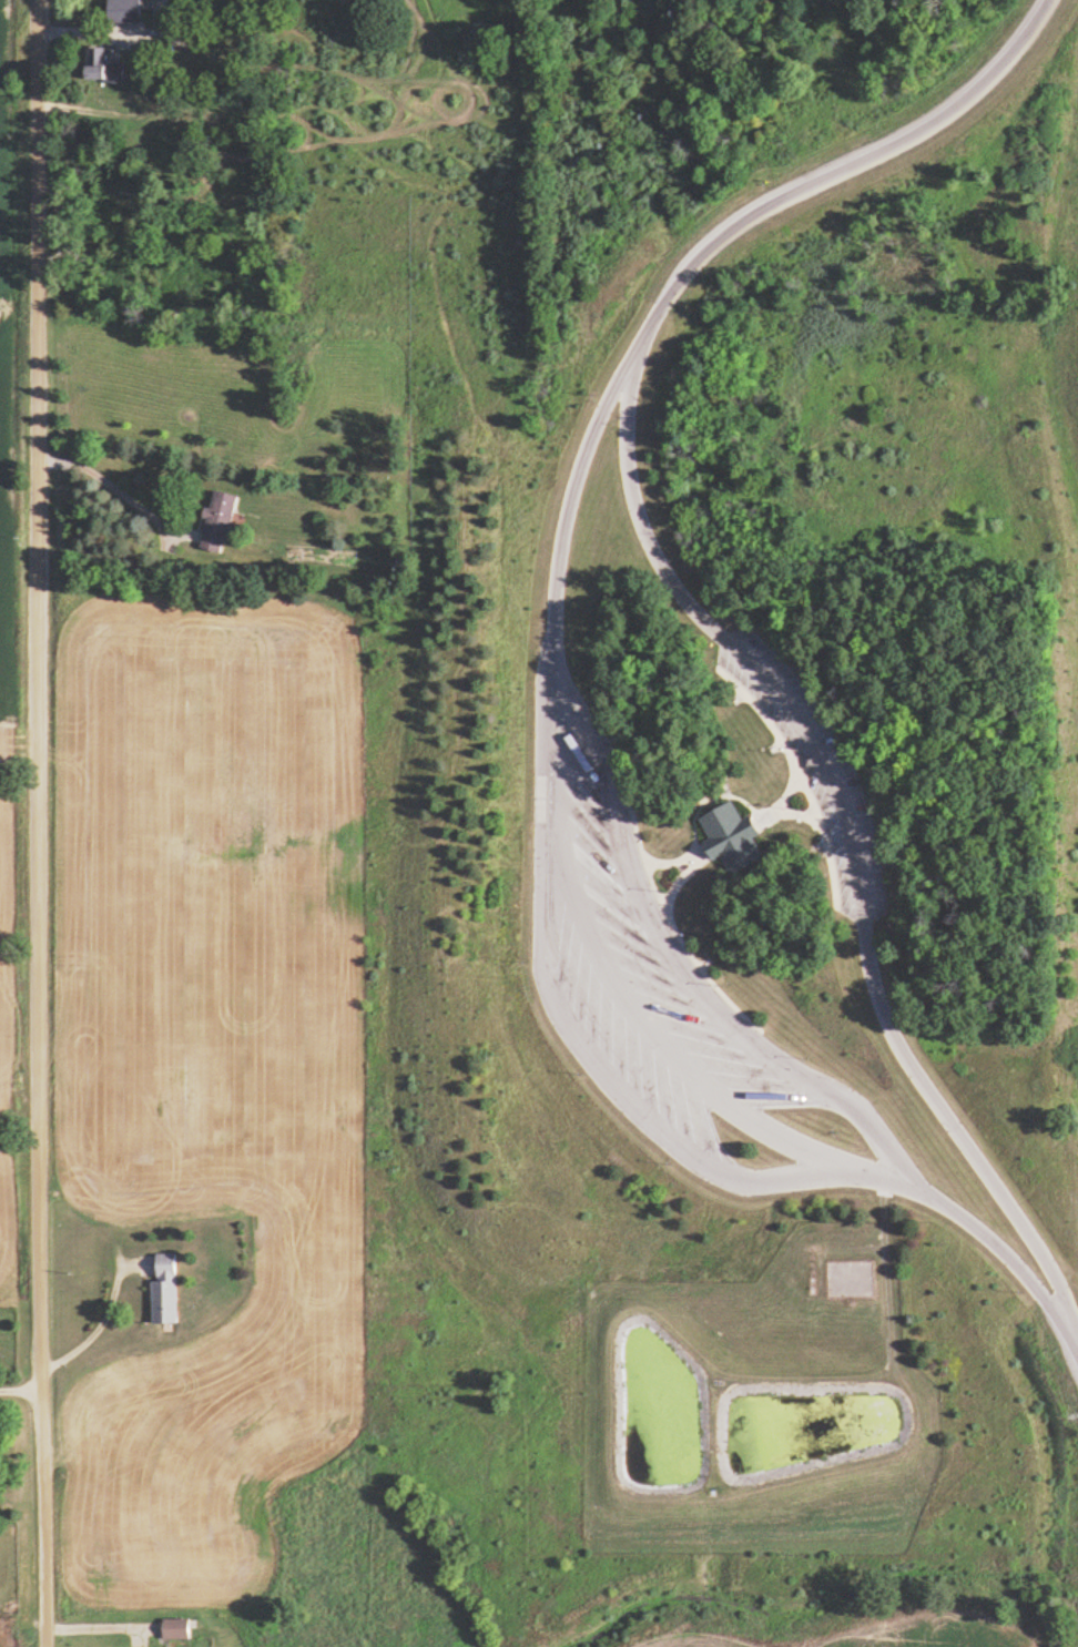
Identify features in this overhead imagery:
building: (126, 11)
building: (103, 67)
road: (835, 173)
road: (116, 488)
building: (221, 518)
parking lot: (813, 767)
road: (797, 774)
road: (777, 801)
road: (789, 814)
road: (693, 820)
road: (35, 823)
road: (844, 828)
building: (731, 836)
road: (682, 875)
road: (660, 901)
road: (596, 943)
parking lot: (649, 980)
building: (167, 1291)
road: (1069, 1335)
road: (18, 1383)
building: (176, 1627)

